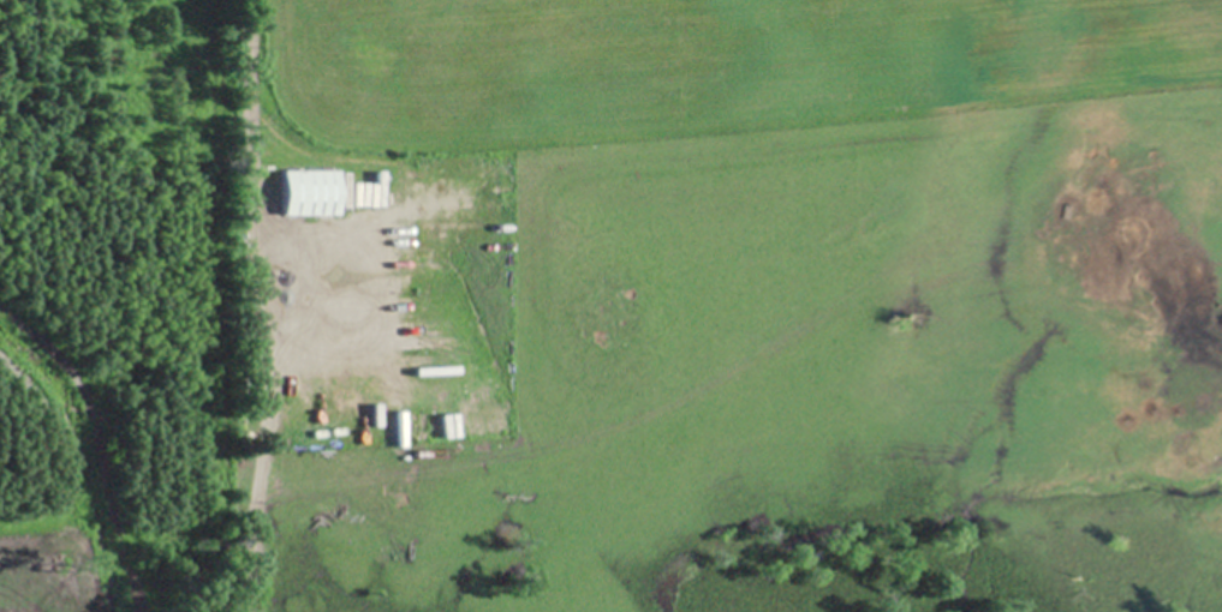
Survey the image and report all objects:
building: (304, 194)
road: (246, 306)

